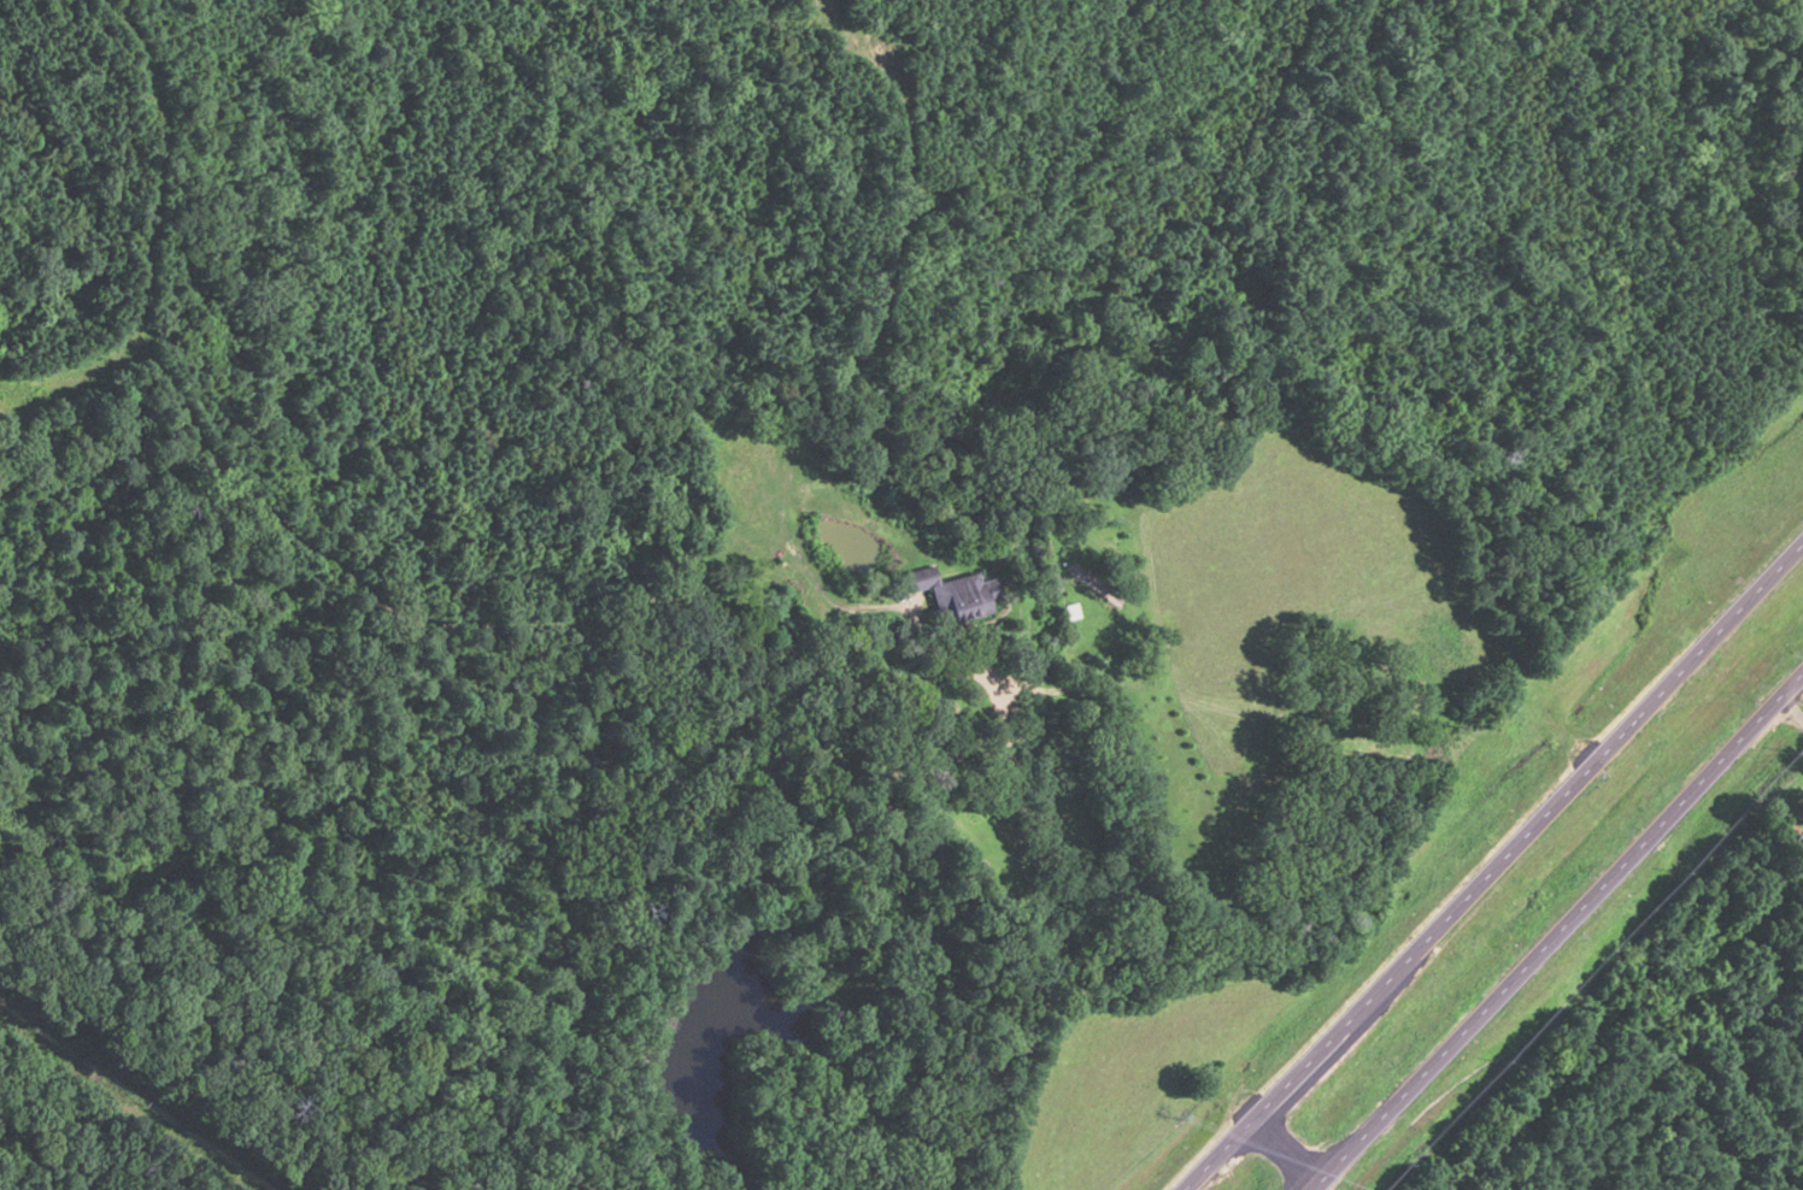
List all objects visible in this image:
building: (967, 596)
road: (1492, 865)
road: (1555, 935)

